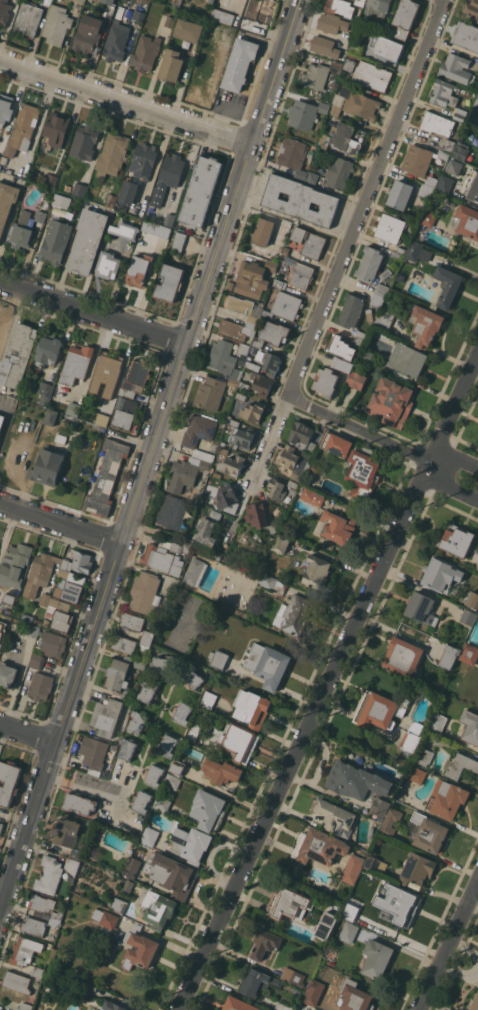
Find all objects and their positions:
building: (363, 0)
building: (80, 1)
building: (108, 1)
building: (211, 1)
building: (359, 2)
building: (340, 7)
building: (376, 7)
building: (471, 9)
building: (4, 11)
building: (119, 12)
building: (138, 15)
building: (222, 16)
building: (28, 19)
building: (404, 19)
building: (170, 21)
building: (332, 23)
building: (57, 25)
building: (211, 25)
building: (385, 27)
building: (258, 28)
building: (188, 30)
building: (226, 32)
building: (88, 33)
building: (466, 35)
building: (116, 41)
building: (324, 46)
building: (389, 47)
building: (361, 49)
building: (146, 52)
building: (239, 64)
building: (350, 64)
building: (171, 65)
building: (457, 68)
building: (477, 68)
building: (203, 72)
building: (320, 74)
building: (372, 75)
building: (444, 93)
road: (127, 102)
building: (359, 103)
building: (476, 103)
building: (6, 109)
building: (335, 110)
building: (305, 113)
building: (459, 116)
building: (437, 123)
building: (57, 128)
building: (22, 129)
building: (348, 137)
building: (324, 141)
building: (84, 142)
building: (448, 145)
building: (460, 151)
building: (112, 154)
building: (443, 154)
building: (293, 155)
building: (417, 160)
building: (143, 161)
building: (454, 166)
building: (339, 172)
building: (168, 177)
building: (313, 177)
building: (52, 180)
building: (431, 181)
building: (445, 183)
building: (471, 186)
building: (80, 189)
building: (201, 190)
building: (426, 190)
building: (129, 191)
building: (400, 195)
building: (61, 200)
building: (111, 200)
building: (300, 200)
building: (7, 202)
building: (123, 207)
building: (42, 211)
building: (169, 219)
building: (428, 219)
building: (466, 221)
building: (413, 222)
building: (389, 227)
building: (159, 229)
building: (124, 230)
building: (21, 231)
building: (262, 232)
building: (87, 240)
building: (55, 241)
building: (178, 242)
building: (309, 242)
road: (349, 245)
building: (285, 250)
building: (401, 250)
building: (413, 251)
building: (396, 255)
building: (370, 263)
building: (107, 265)
building: (139, 269)
building: (386, 273)
building: (301, 275)
building: (254, 278)
building: (169, 282)
building: (280, 283)
building: (230, 285)
building: (447, 285)
building: (381, 289)
building: (377, 300)
building: (285, 306)
building: (245, 308)
building: (350, 310)
road: (94, 313)
building: (369, 315)
building: (0, 318)
building: (384, 320)
building: (424, 324)
building: (1, 327)
building: (237, 329)
building: (272, 334)
building: (361, 334)
building: (358, 342)
building: (341, 347)
building: (47, 350)
building: (243, 350)
building: (18, 354)
building: (366, 356)
building: (224, 358)
building: (407, 359)
building: (269, 362)
building: (76, 364)
building: (342, 364)
building: (253, 365)
building: (106, 374)
building: (136, 378)
building: (357, 379)
building: (326, 381)
building: (233, 383)
building: (261, 383)
building: (244, 384)
building: (45, 392)
building: (209, 392)
building: (241, 396)
building: (391, 402)
road: (300, 403)
building: (65, 407)
road: (312, 409)
building: (253, 411)
building: (124, 412)
road: (452, 415)
building: (51, 417)
building: (102, 419)
building: (2, 421)
road: (4, 429)
road: (364, 433)
building: (199, 434)
building: (241, 434)
building: (301, 434)
building: (61, 438)
building: (336, 443)
building: (312, 448)
building: (223, 450)
road: (446, 457)
road: (150, 459)
building: (295, 461)
building: (233, 465)
building: (47, 466)
building: (314, 467)
building: (363, 471)
building: (186, 473)
building: (217, 474)
building: (106, 478)
road: (442, 478)
building: (293, 484)
building: (276, 487)
building: (210, 491)
building: (327, 493)
building: (313, 496)
building: (227, 499)
building: (172, 511)
building: (259, 515)
road: (61, 523)
building: (336, 526)
building: (208, 529)
building: (258, 534)
building: (179, 536)
building: (455, 539)
building: (281, 543)
building: (176, 545)
building: (207, 551)
building: (162, 559)
building: (78, 562)
building: (14, 564)
building: (477, 568)
building: (195, 571)
building: (63, 572)
building: (316, 572)
building: (40, 573)
building: (441, 574)
building: (76, 578)
building: (270, 582)
building: (72, 592)
building: (145, 592)
building: (8, 599)
building: (472, 599)
building: (53, 604)
building: (421, 607)
building: (294, 614)
building: (468, 616)
building: (30, 619)
building: (61, 620)
building: (132, 621)
building: (46, 622)
building: (4, 625)
building: (32, 630)
building: (147, 638)
building: (51, 643)
building: (124, 644)
building: (469, 653)
building: (449, 656)
building: (403, 657)
building: (218, 659)
building: (37, 661)
building: (163, 663)
building: (139, 664)
building: (268, 665)
building: (119, 673)
building: (7, 675)
building: (192, 676)
building: (41, 686)
building: (148, 691)
building: (128, 695)
building: (209, 700)
building: (252, 708)
building: (379, 710)
building: (182, 712)
building: (107, 716)
building: (138, 722)
building: (437, 722)
building: (470, 726)
building: (194, 731)
road: (29, 734)
building: (236, 741)
road: (304, 741)
building: (410, 741)
building: (185, 743)
building: (167, 745)
building: (127, 749)
building: (94, 752)
building: (423, 755)
building: (461, 765)
building: (177, 766)
building: (221, 770)
building: (106, 774)
building: (416, 774)
building: (154, 775)
building: (356, 780)
building: (8, 781)
building: (172, 781)
road: (84, 787)
building: (447, 798)
building: (141, 801)
building: (79, 803)
building: (162, 804)
building: (380, 806)
building: (208, 810)
building: (336, 817)
building: (380, 818)
building: (391, 822)
building: (1, 826)
building: (66, 831)
building: (429, 832)
building: (370, 834)
building: (150, 836)
building: (189, 843)
building: (319, 846)
building: (77, 854)
building: (375, 864)
building: (72, 865)
building: (131, 867)
building: (352, 868)
building: (417, 869)
building: (171, 874)
building: (49, 875)
building: (128, 886)
building: (398, 903)
building: (288, 904)
building: (119, 905)
building: (46, 909)
building: (158, 909)
building: (350, 911)
building: (98, 915)
building: (110, 920)
building: (33, 925)
building: (326, 925)
building: (349, 932)
building: (265, 943)
road: (449, 947)
building: (139, 949)
building: (25, 950)
building: (51, 955)
building: (377, 958)
building: (37, 971)
building: (297, 978)
building: (17, 981)
building: (257, 982)
building: (314, 992)
building: (354, 997)
building: (475, 1003)
building: (239, 1004)
building: (25, 1006)
building: (113, 1006)
building: (304, 1006)
building: (284, 1007)
building: (297, 1009)

